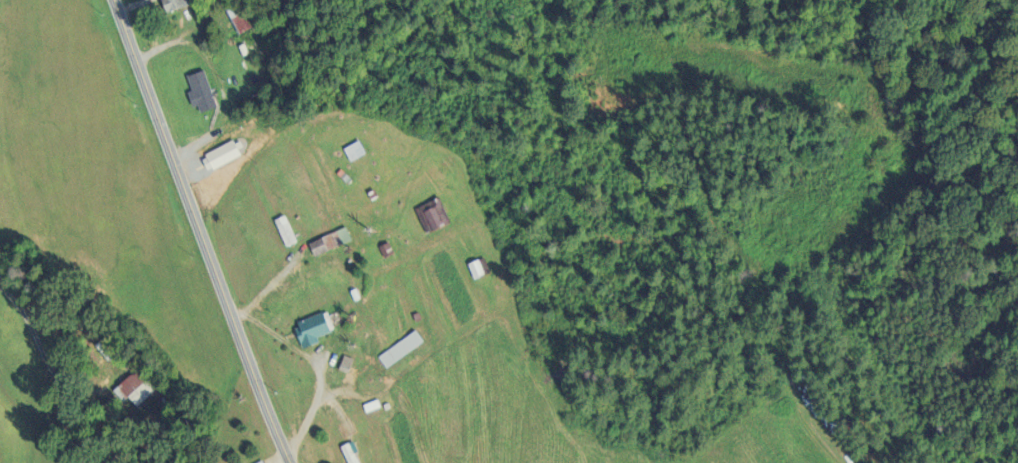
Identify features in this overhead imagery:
building: (178, 6)
road: (218, 82)
building: (204, 94)
building: (358, 152)
building: (224, 158)
building: (434, 217)
road: (198, 232)
building: (333, 243)
building: (479, 271)
building: (315, 332)
building: (403, 351)
building: (349, 366)
road: (52, 377)
building: (137, 391)

